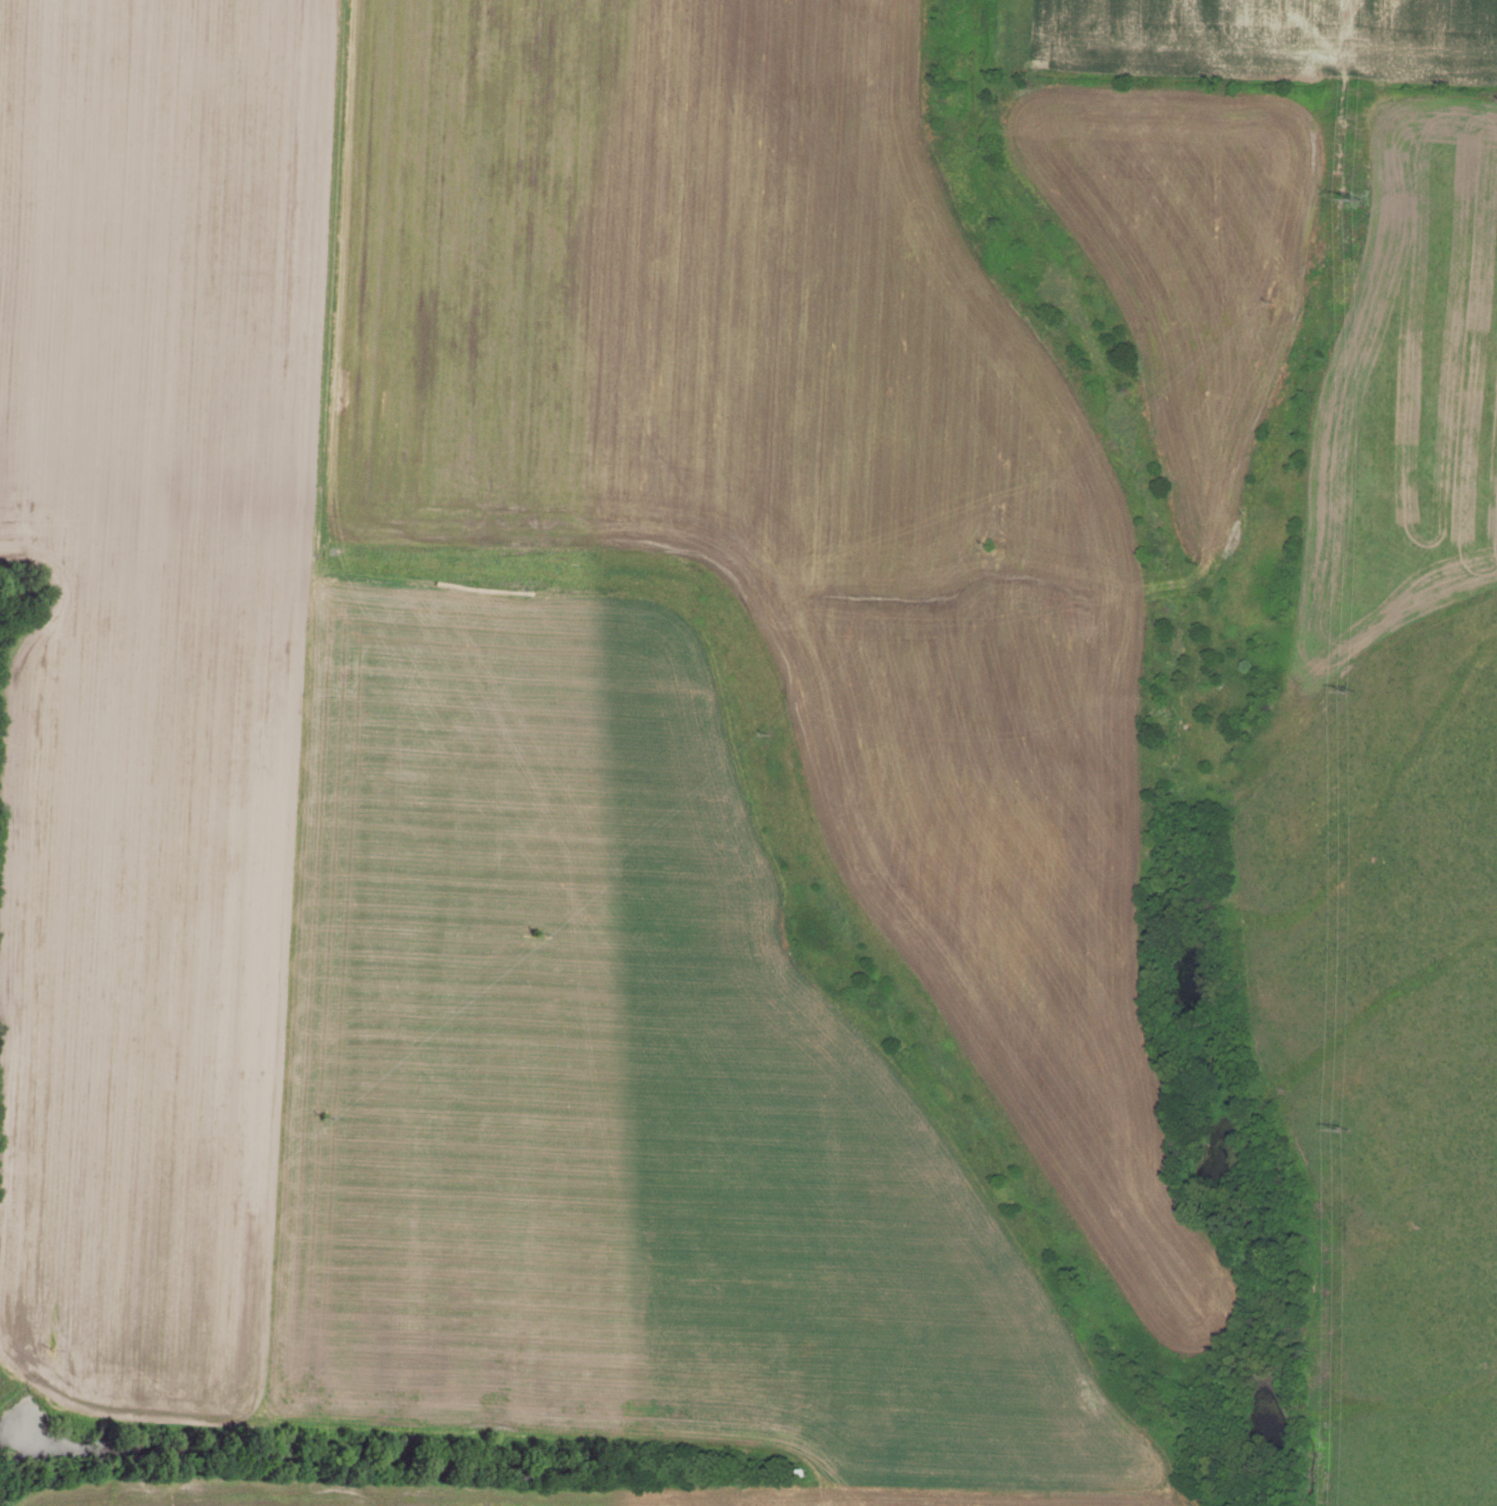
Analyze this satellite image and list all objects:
power tower: (1357, 201)
power tower: (1350, 689)
power tower: (1342, 1134)

